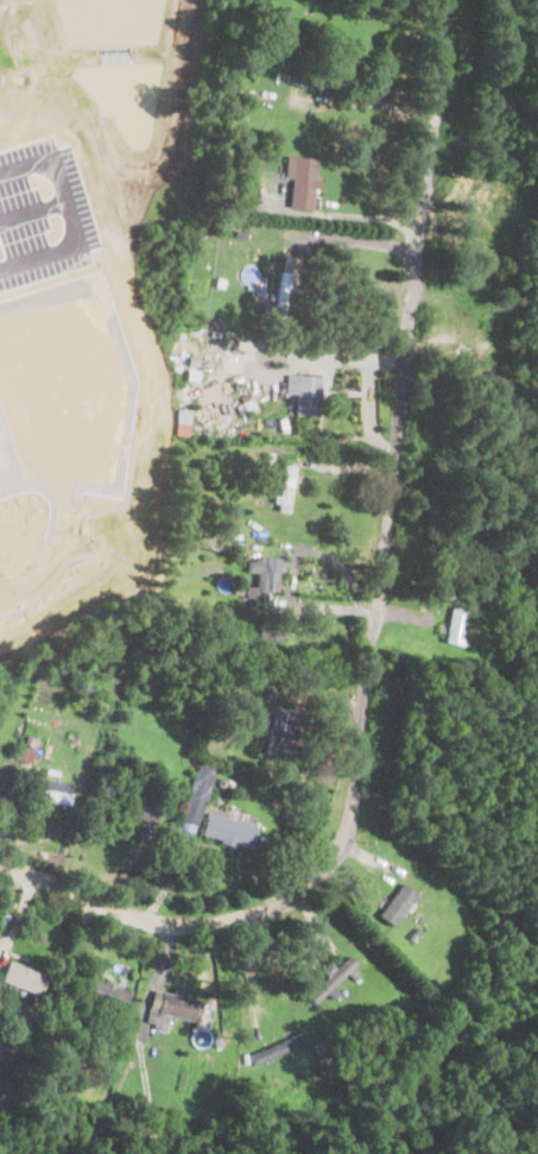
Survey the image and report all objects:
building: (279, 57)
building: (298, 72)
road: (376, 103)
building: (302, 179)
road: (72, 203)
road: (341, 215)
road: (336, 358)
building: (304, 392)
road: (368, 395)
building: (182, 421)
road: (52, 469)
building: (284, 487)
building: (261, 576)
road: (379, 608)
building: (455, 624)
building: (277, 730)
building: (23, 749)
building: (53, 789)
building: (192, 801)
building: (138, 808)
building: (226, 830)
building: (395, 903)
road: (247, 964)
building: (24, 977)
building: (329, 979)
building: (102, 999)
building: (169, 1007)
building: (278, 1049)

